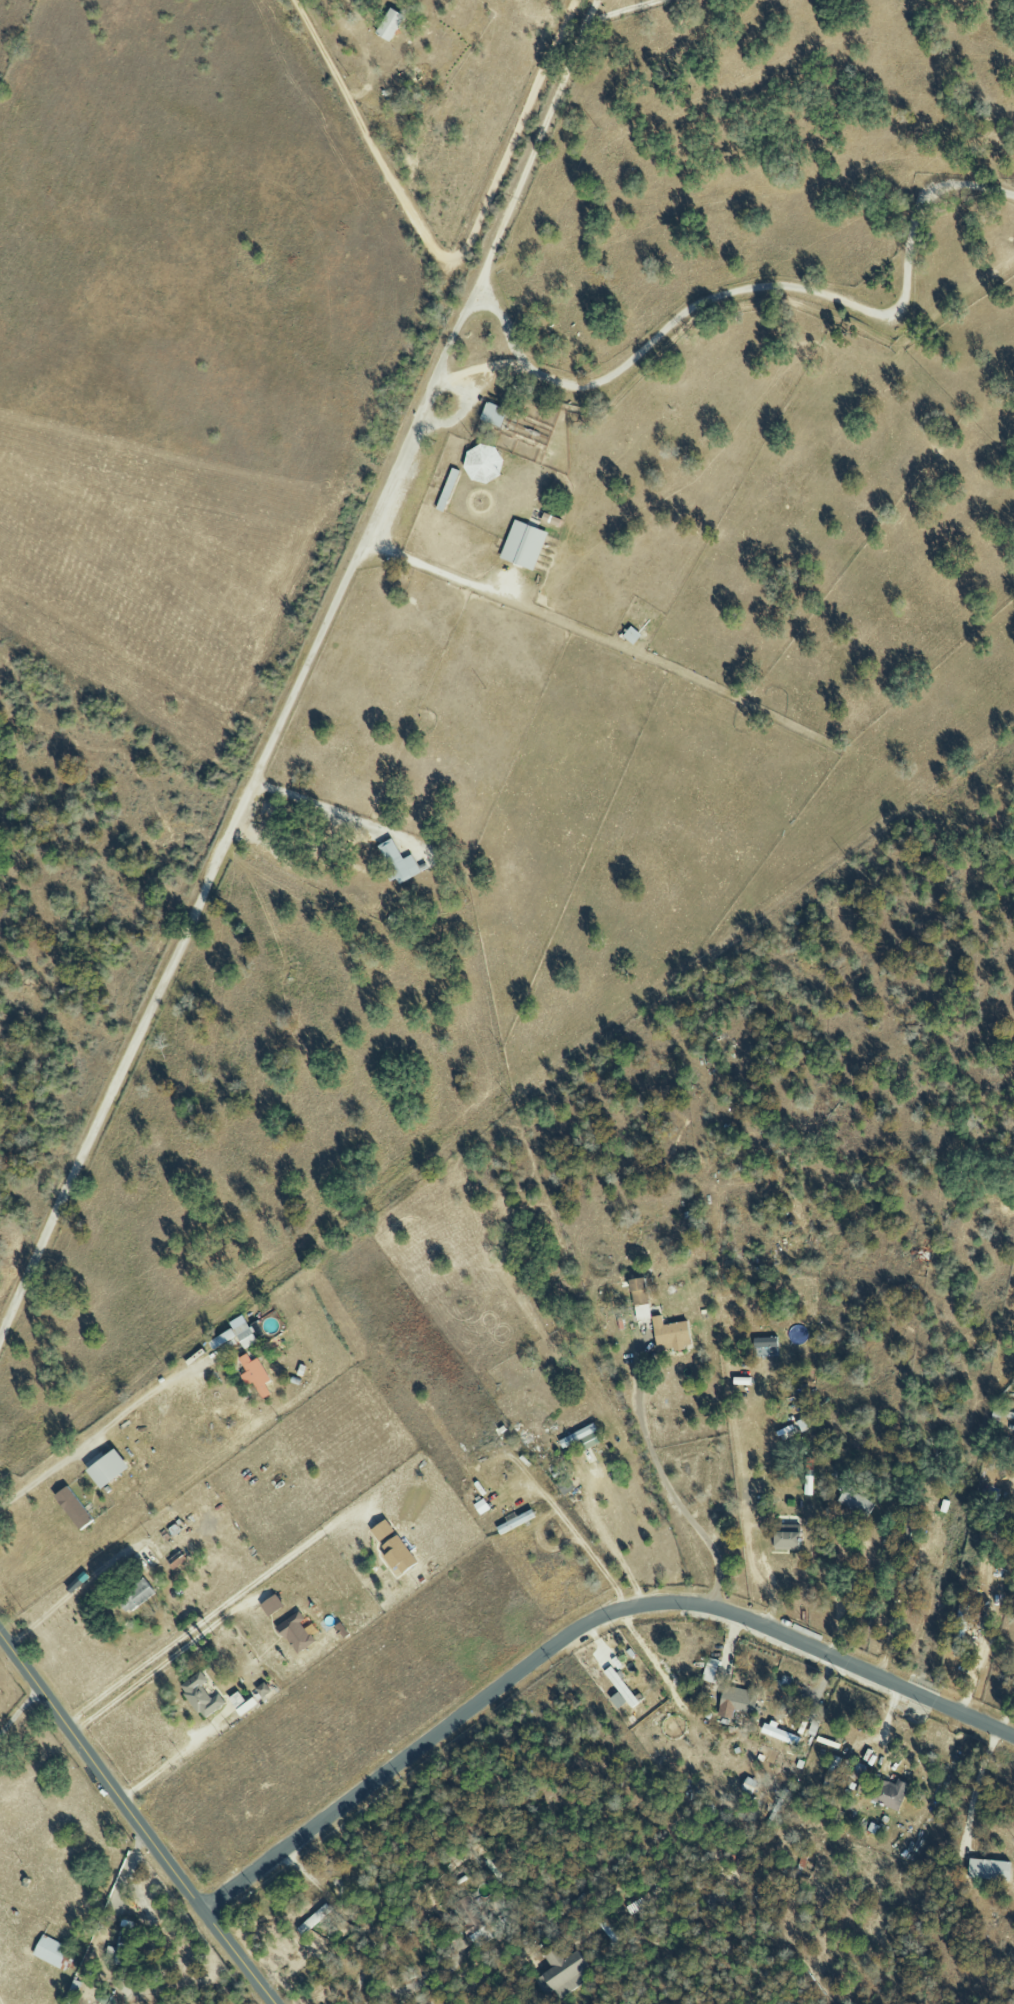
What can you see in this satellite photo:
road: (620, 11)
building: (388, 25)
road: (363, 48)
road: (444, 259)
road: (758, 288)
road: (477, 368)
building: (492, 414)
building: (480, 464)
building: (446, 489)
building: (522, 545)
road: (432, 568)
building: (630, 636)
road: (304, 671)
road: (317, 804)
building: (398, 862)
building: (637, 1291)
building: (244, 1335)
building: (671, 1336)
building: (220, 1339)
building: (764, 1343)
building: (254, 1375)
building: (793, 1429)
road: (105, 1431)
building: (580, 1438)
building: (105, 1469)
building: (564, 1485)
road: (672, 1497)
building: (855, 1502)
building: (480, 1507)
building: (71, 1508)
road: (750, 1520)
road: (576, 1536)
building: (786, 1539)
road: (612, 1545)
building: (392, 1548)
road: (66, 1596)
building: (134, 1596)
building: (270, 1606)
road: (212, 1613)
building: (959, 1629)
road: (577, 1630)
building: (294, 1634)
road: (889, 1638)
building: (709, 1670)
building: (619, 1690)
building: (199, 1696)
building: (735, 1701)
building: (240, 1704)
road: (18, 1712)
building: (783, 1736)
building: (831, 1772)
road: (977, 1789)
building: (889, 1794)
road: (137, 1821)
building: (988, 1869)
building: (471, 1922)
building: (608, 1928)
building: (50, 1951)
building: (564, 1970)
road: (456, 1974)
road: (415, 1983)
building: (71, 1992)
building: (107, 2001)

